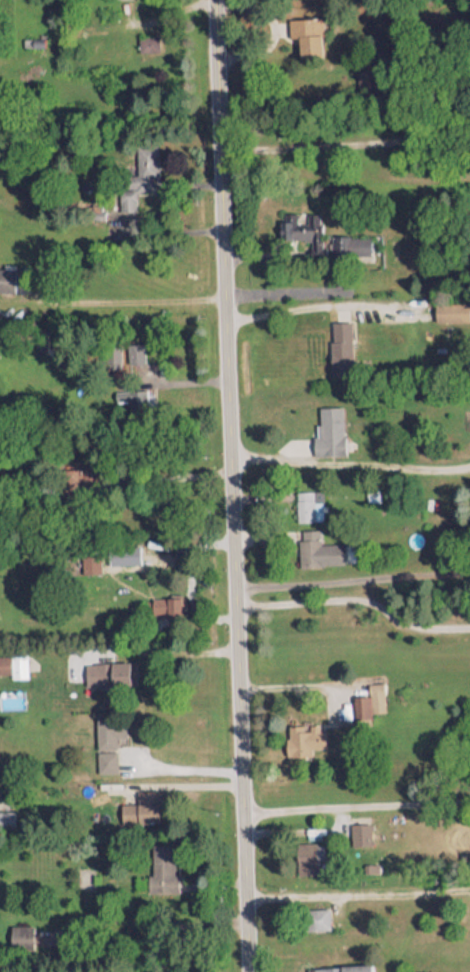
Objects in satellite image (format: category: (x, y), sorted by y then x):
building: (305, 29)
building: (298, 230)
building: (349, 239)
building: (6, 273)
road: (290, 292)
road: (312, 306)
building: (340, 341)
building: (328, 423)
road: (349, 467)
road: (228, 486)
building: (314, 506)
building: (314, 543)
road: (353, 600)
road: (162, 651)
road: (288, 690)
building: (359, 702)
building: (302, 733)
building: (105, 756)
road: (181, 771)
building: (140, 802)
road: (354, 804)
building: (359, 827)
building: (160, 860)
road: (356, 895)
building: (313, 913)
building: (339, 966)

